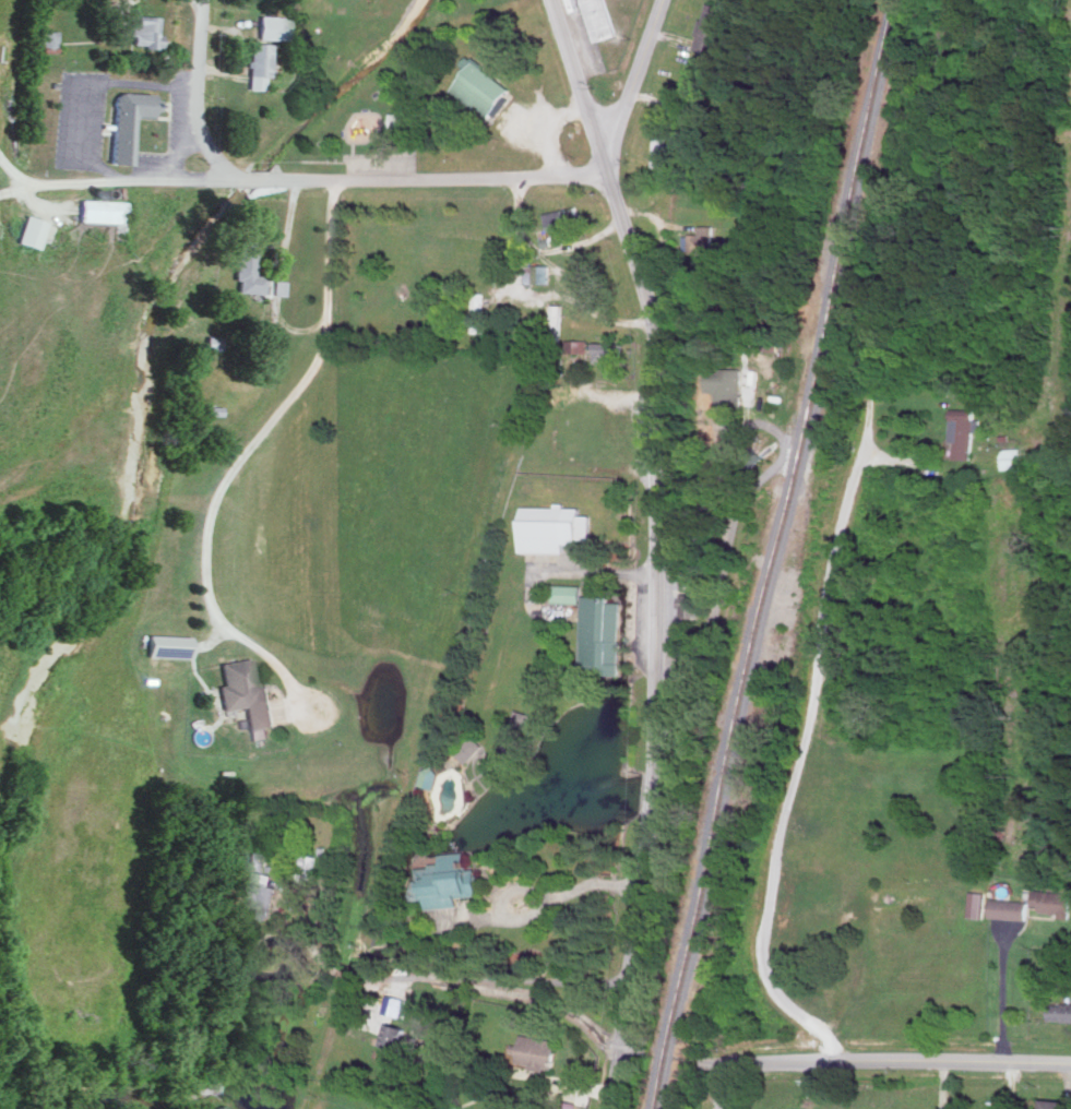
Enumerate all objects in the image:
building: (599, 19)
building: (274, 26)
building: (709, 27)
building: (144, 31)
building: (48, 37)
building: (259, 63)
road: (635, 74)
building: (481, 88)
building: (403, 120)
building: (128, 121)
building: (658, 151)
road: (400, 179)
road: (93, 186)
road: (16, 191)
building: (102, 210)
road: (923, 211)
building: (562, 217)
building: (32, 230)
road: (517, 236)
building: (703, 239)
road: (178, 246)
building: (246, 267)
building: (537, 273)
building: (277, 286)
building: (478, 312)
building: (213, 342)
building: (579, 344)
building: (607, 350)
building: (729, 383)
building: (212, 408)
building: (964, 430)
road: (740, 432)
road: (250, 445)
road: (885, 456)
building: (1011, 457)
building: (552, 526)
road: (656, 548)
railway: (780, 554)
building: (568, 592)
building: (687, 604)
building: (603, 633)
building: (167, 644)
building: (247, 696)
building: (524, 718)
building: (471, 748)
road: (799, 766)
building: (255, 859)
building: (448, 881)
road: (597, 881)
building: (261, 893)
building: (1054, 901)
building: (977, 903)
building: (1010, 907)
road: (511, 920)
road: (453, 979)
road: (1002, 987)
building: (395, 1004)
building: (1060, 1011)
building: (398, 1037)
building: (538, 1051)
road: (638, 1053)
road: (896, 1060)
road: (705, 1065)
road: (719, 1087)
building: (1051, 1104)
building: (569, 1105)
building: (221, 1106)

